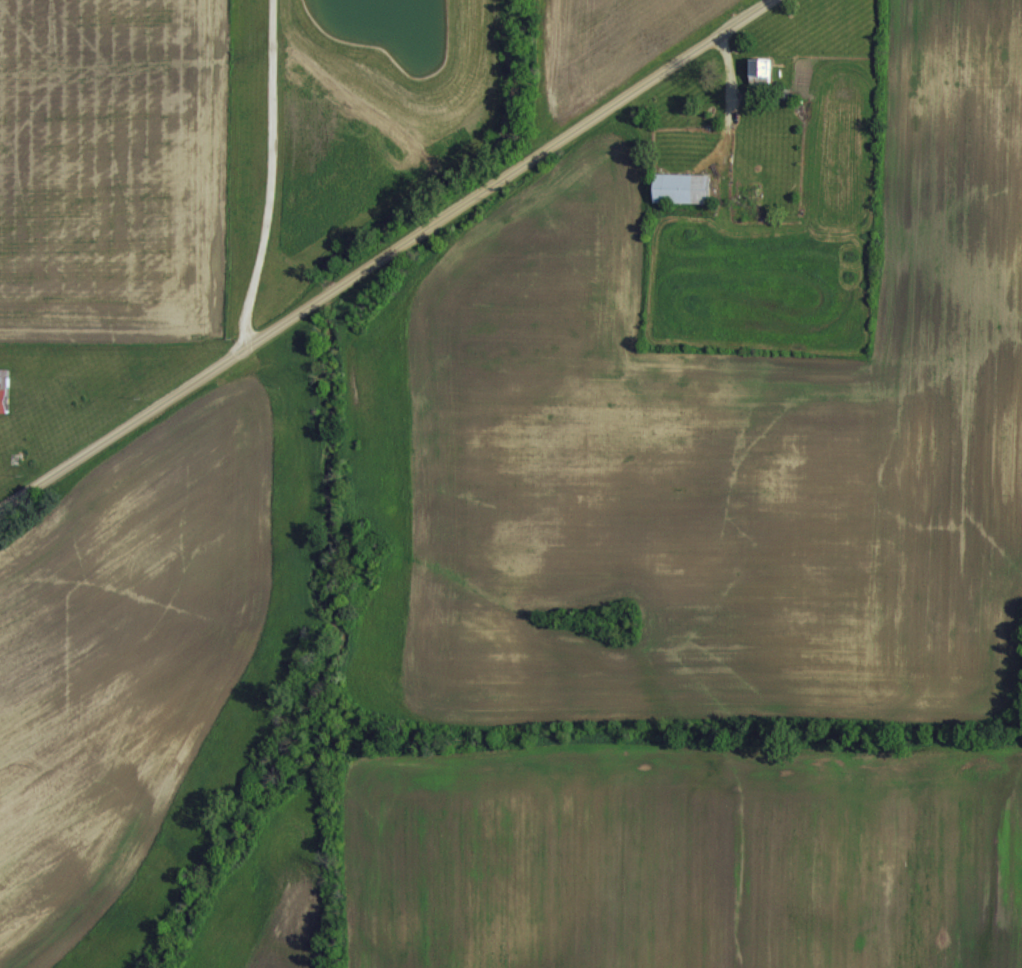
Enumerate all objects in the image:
building: (757, 69)
road: (268, 173)
building: (678, 186)
road: (384, 253)
building: (2, 388)

